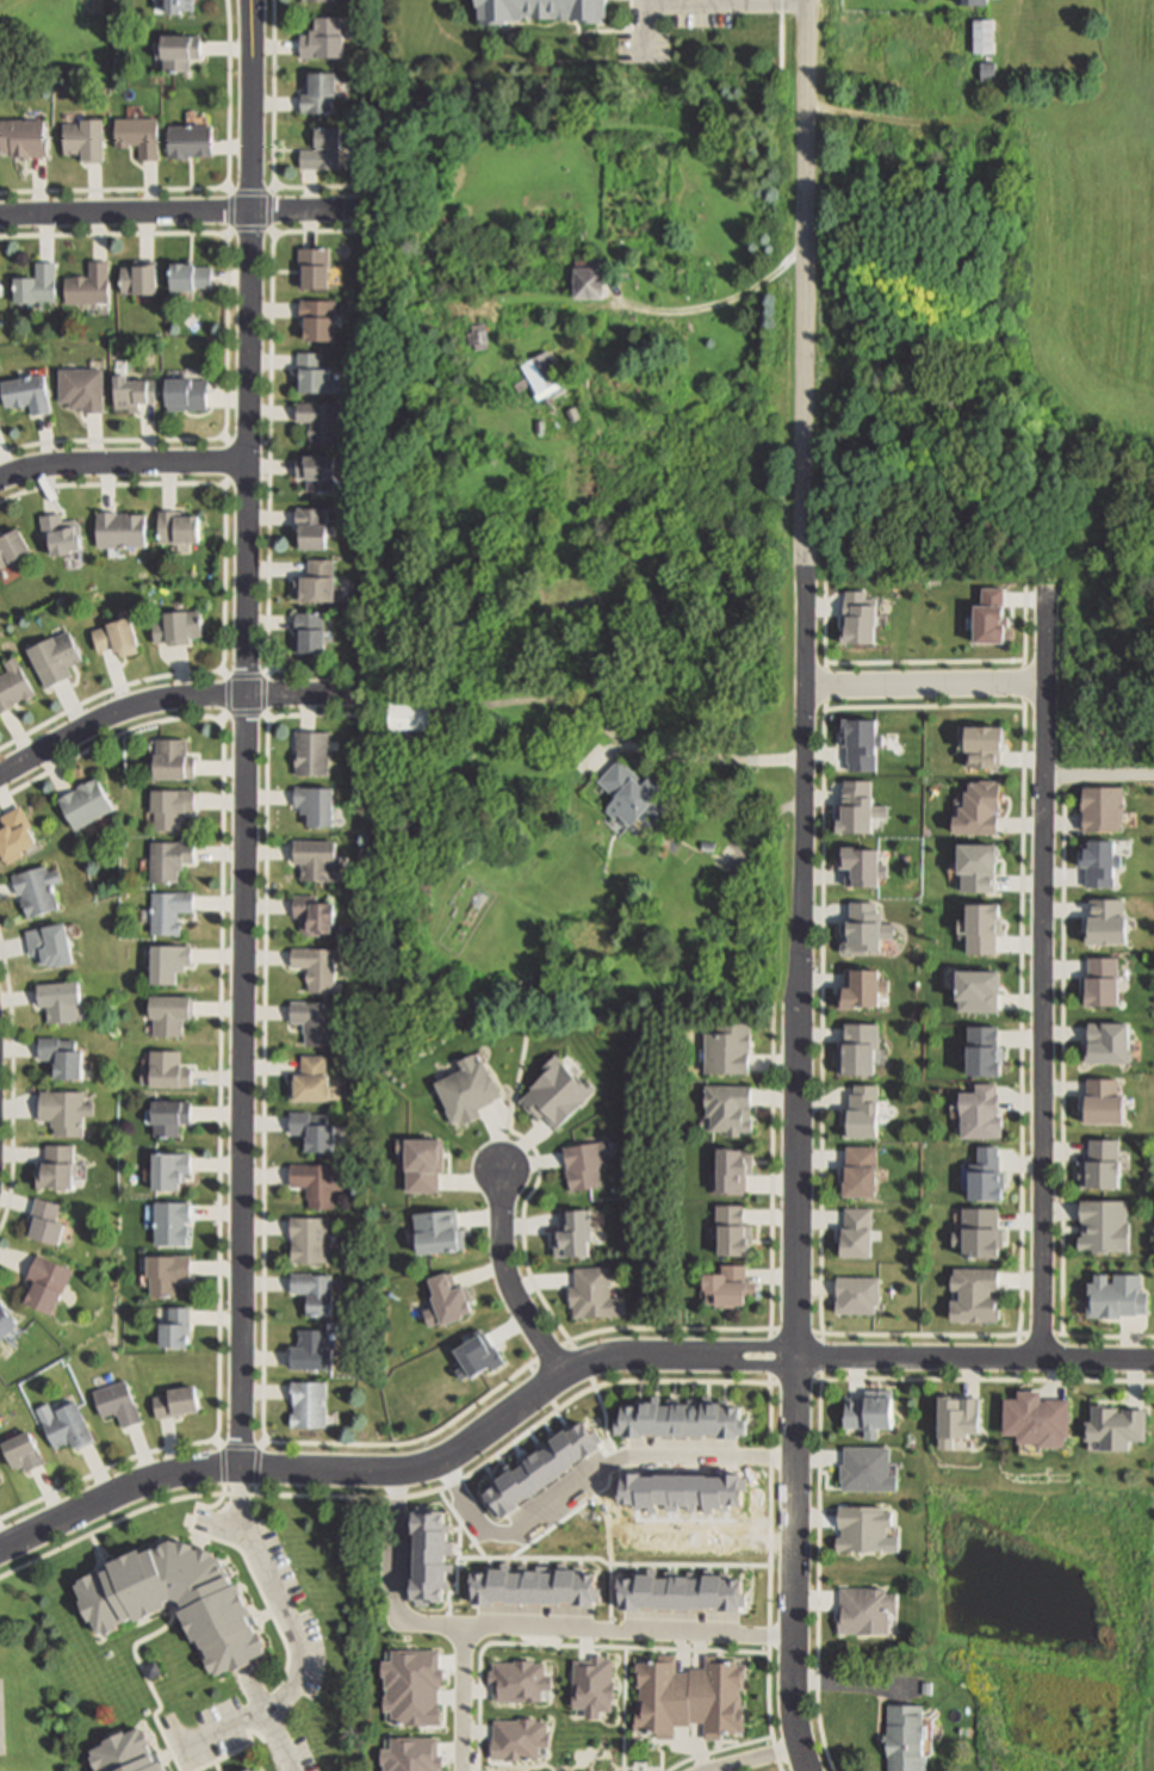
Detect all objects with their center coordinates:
building: (319, 1)
building: (973, 1)
road: (726, 4)
building: (175, 7)
road: (638, 7)
building: (542, 8)
road: (644, 29)
road: (616, 31)
building: (984, 36)
road: (782, 37)
building: (319, 39)
building: (176, 52)
building: (988, 70)
building: (315, 93)
road: (910, 123)
building: (136, 137)
building: (23, 140)
building: (82, 140)
road: (273, 141)
building: (186, 142)
building: (318, 150)
road: (229, 187)
road: (273, 187)
road: (205, 190)
road: (187, 212)
road: (273, 233)
crop: (1118, 233)
road: (228, 234)
building: (310, 268)
building: (186, 278)
building: (135, 279)
building: (589, 280)
building: (35, 284)
building: (85, 286)
road: (713, 306)
building: (315, 321)
building: (478, 334)
road: (228, 336)
building: (542, 371)
building: (310, 373)
building: (79, 389)
building: (129, 394)
building: (24, 395)
building: (184, 395)
building: (316, 423)
road: (227, 439)
road: (271, 451)
road: (123, 462)
building: (314, 473)
road: (225, 484)
building: (175, 528)
building: (310, 528)
building: (117, 531)
building: (58, 535)
building: (11, 547)
building: (312, 583)
road: (225, 584)
building: (992, 618)
building: (862, 620)
road: (827, 626)
road: (1026, 627)
building: (175, 628)
building: (311, 633)
building: (114, 638)
building: (52, 658)
road: (926, 662)
road: (271, 671)
road: (224, 673)
building: (12, 685)
road: (923, 687)
road: (173, 699)
road: (926, 707)
road: (268, 717)
road: (223, 718)
building: (408, 718)
road: (246, 736)
road: (618, 736)
building: (864, 744)
building: (985, 747)
building: (310, 755)
building: (169, 762)
road: (1098, 776)
building: (635, 795)
building: (82, 805)
building: (312, 805)
building: (168, 809)
building: (862, 809)
building: (1106, 810)
building: (982, 811)
building: (14, 836)
building: (167, 861)
building: (314, 861)
building: (1102, 863)
building: (858, 866)
building: (981, 867)
road: (801, 886)
building: (33, 891)
building: (167, 914)
building: (310, 918)
building: (1109, 923)
building: (862, 928)
building: (986, 931)
building: (46, 947)
building: (166, 964)
building: (314, 968)
road: (1041, 973)
building: (1108, 984)
building: (862, 992)
building: (982, 992)
building: (57, 1002)
building: (167, 1016)
building: (311, 1022)
road: (823, 1029)
road: (1023, 1040)
building: (1105, 1046)
building: (726, 1051)
building: (856, 1051)
building: (981, 1054)
building: (60, 1059)
road: (1063, 1065)
building: (163, 1069)
road: (222, 1075)
road: (519, 1079)
building: (308, 1080)
road: (13, 1082)
building: (465, 1091)
building: (559, 1096)
building: (1103, 1103)
building: (727, 1110)
building: (62, 1113)
building: (860, 1113)
building: (979, 1114)
building: (168, 1119)
building: (311, 1132)
building: (426, 1165)
building: (582, 1166)
building: (54, 1169)
building: (1098, 1169)
building: (731, 1172)
building: (856, 1172)
building: (167, 1174)
building: (985, 1176)
road: (773, 1179)
building: (314, 1184)
road: (263, 1189)
building: (42, 1224)
building: (168, 1226)
building: (1099, 1226)
building: (731, 1232)
building: (434, 1234)
building: (981, 1234)
building: (857, 1236)
building: (570, 1237)
building: (305, 1240)
road: (525, 1246)
building: (163, 1275)
road: (505, 1276)
building: (45, 1283)
building: (726, 1289)
building: (310, 1293)
building: (592, 1294)
building: (858, 1296)
building: (972, 1298)
building: (1117, 1298)
building: (6, 1320)
road: (670, 1329)
building: (170, 1330)
road: (918, 1336)
road: (1097, 1337)
building: (308, 1354)
road: (680, 1354)
road: (974, 1380)
road: (544, 1387)
building: (116, 1404)
building: (173, 1405)
building: (305, 1405)
road: (603, 1411)
building: (869, 1416)
building: (683, 1418)
building: (960, 1420)
building: (1035, 1423)
building: (1115, 1428)
building: (66, 1429)
road: (523, 1435)
road: (241, 1447)
building: (21, 1454)
road: (222, 1465)
road: (258, 1465)
building: (541, 1466)
road: (589, 1476)
road: (238, 1494)
road: (116, 1496)
road: (108, 1525)
building: (861, 1529)
building: (429, 1554)
road: (496, 1558)
road: (770, 1563)
road: (819, 1563)
road: (657, 1565)
building: (534, 1586)
building: (680, 1592)
building: (179, 1602)
building: (862, 1611)
park: (1044, 1618)
parking lot: (298, 1624)
road: (520, 1627)
road: (296, 1637)
road: (491, 1643)
road: (697, 1651)
park: (24, 1677)
building: (520, 1680)
building: (414, 1686)
building: (595, 1686)
building: (690, 1692)
road: (464, 1698)
road: (625, 1709)
park: (2, 1719)
road: (266, 1720)
building: (519, 1738)
building: (906, 1738)
road: (720, 1750)
building: (129, 1753)
building: (414, 1754)
road: (663, 1759)
road: (755, 1759)
building: (253, 1770)

